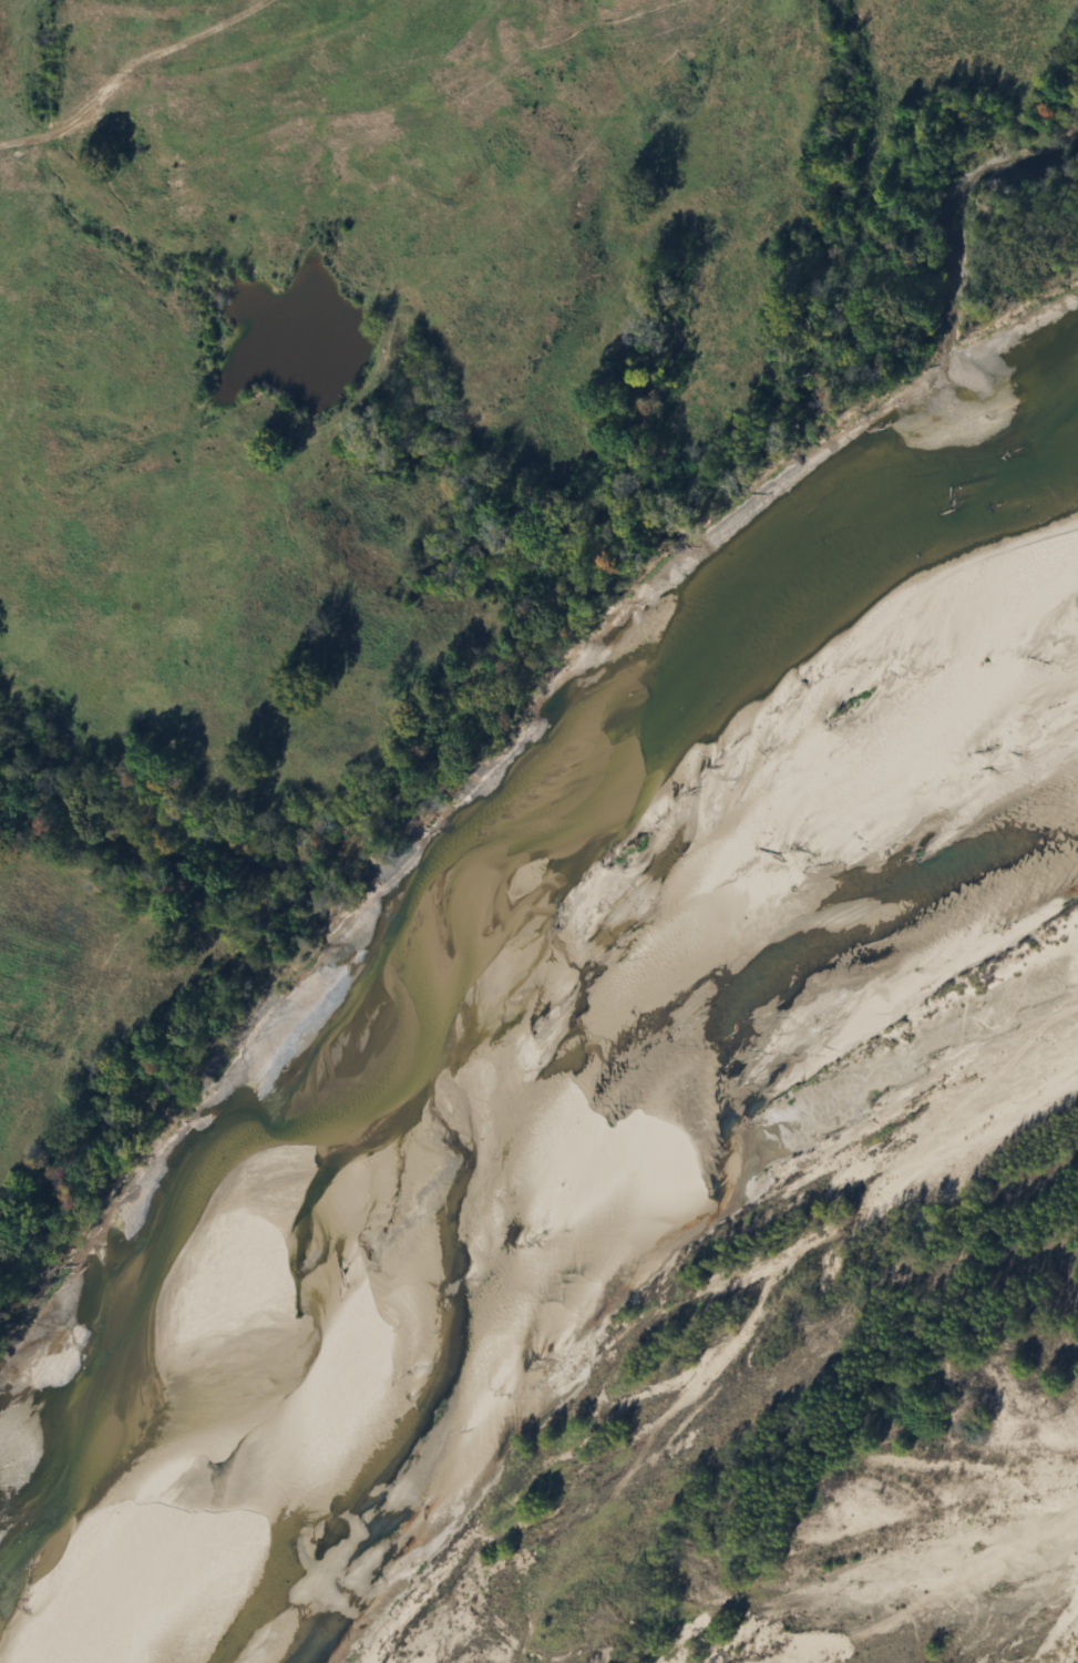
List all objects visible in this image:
river: (475, 972)

